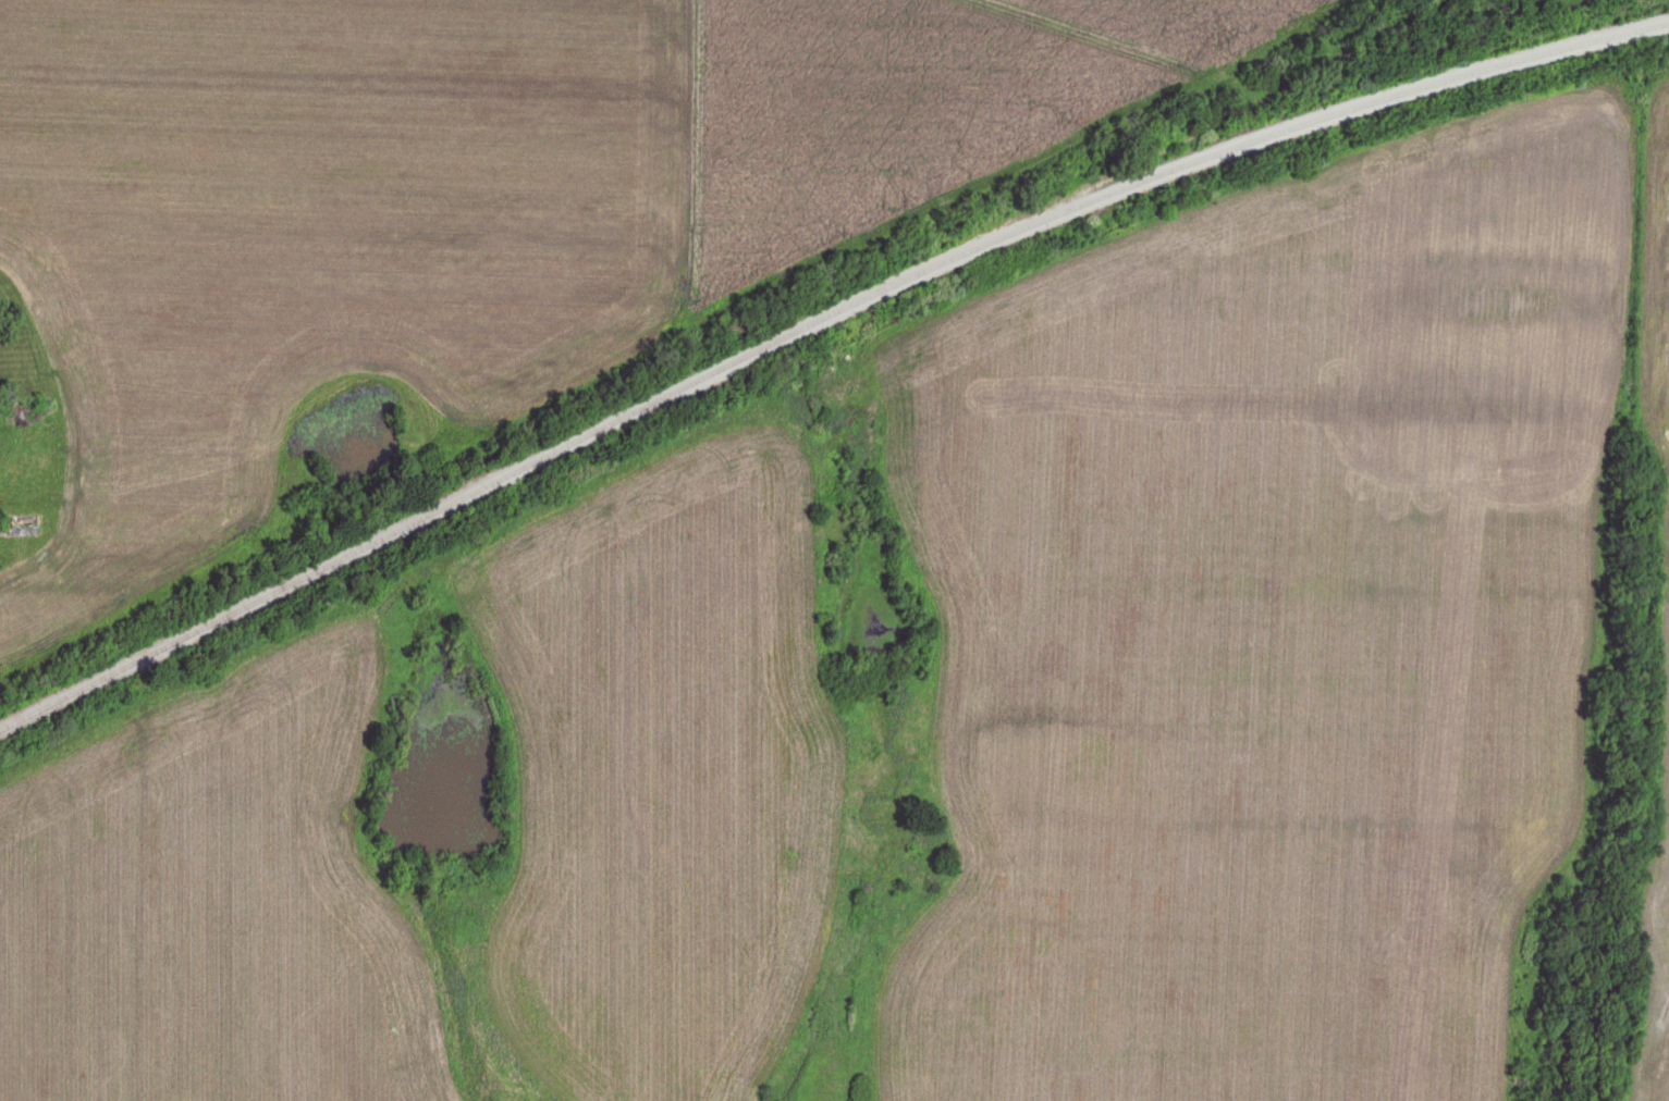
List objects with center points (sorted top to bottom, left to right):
railway: (814, 323)

